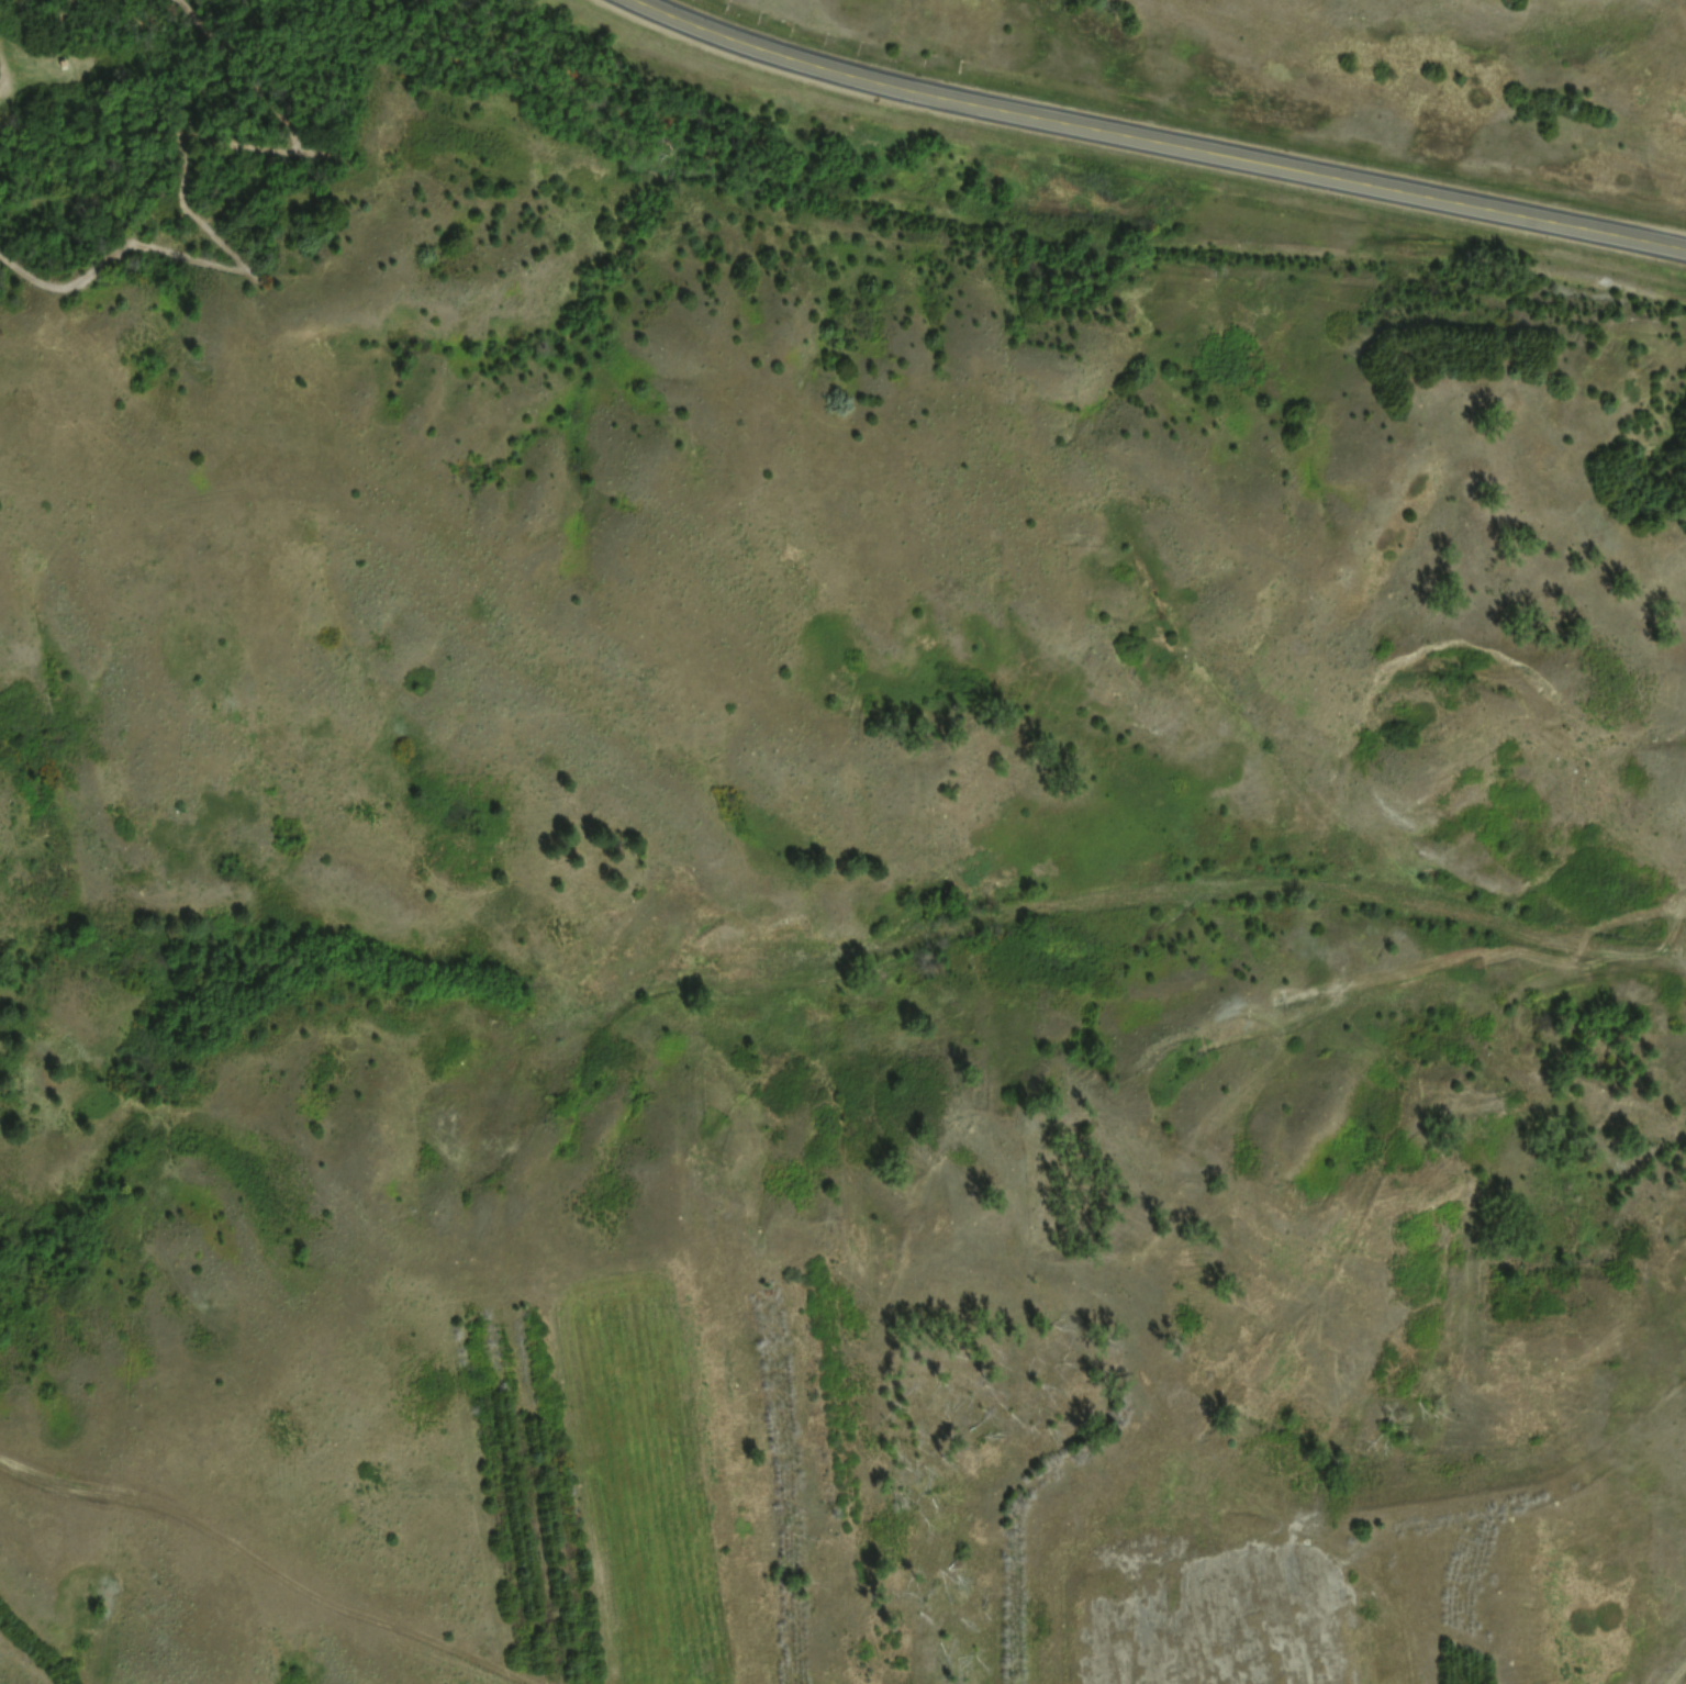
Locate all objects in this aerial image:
road: (1158, 138)
road: (1258, 885)
park: (1676, 904)
road: (277, 1568)
road: (1676, 1668)

